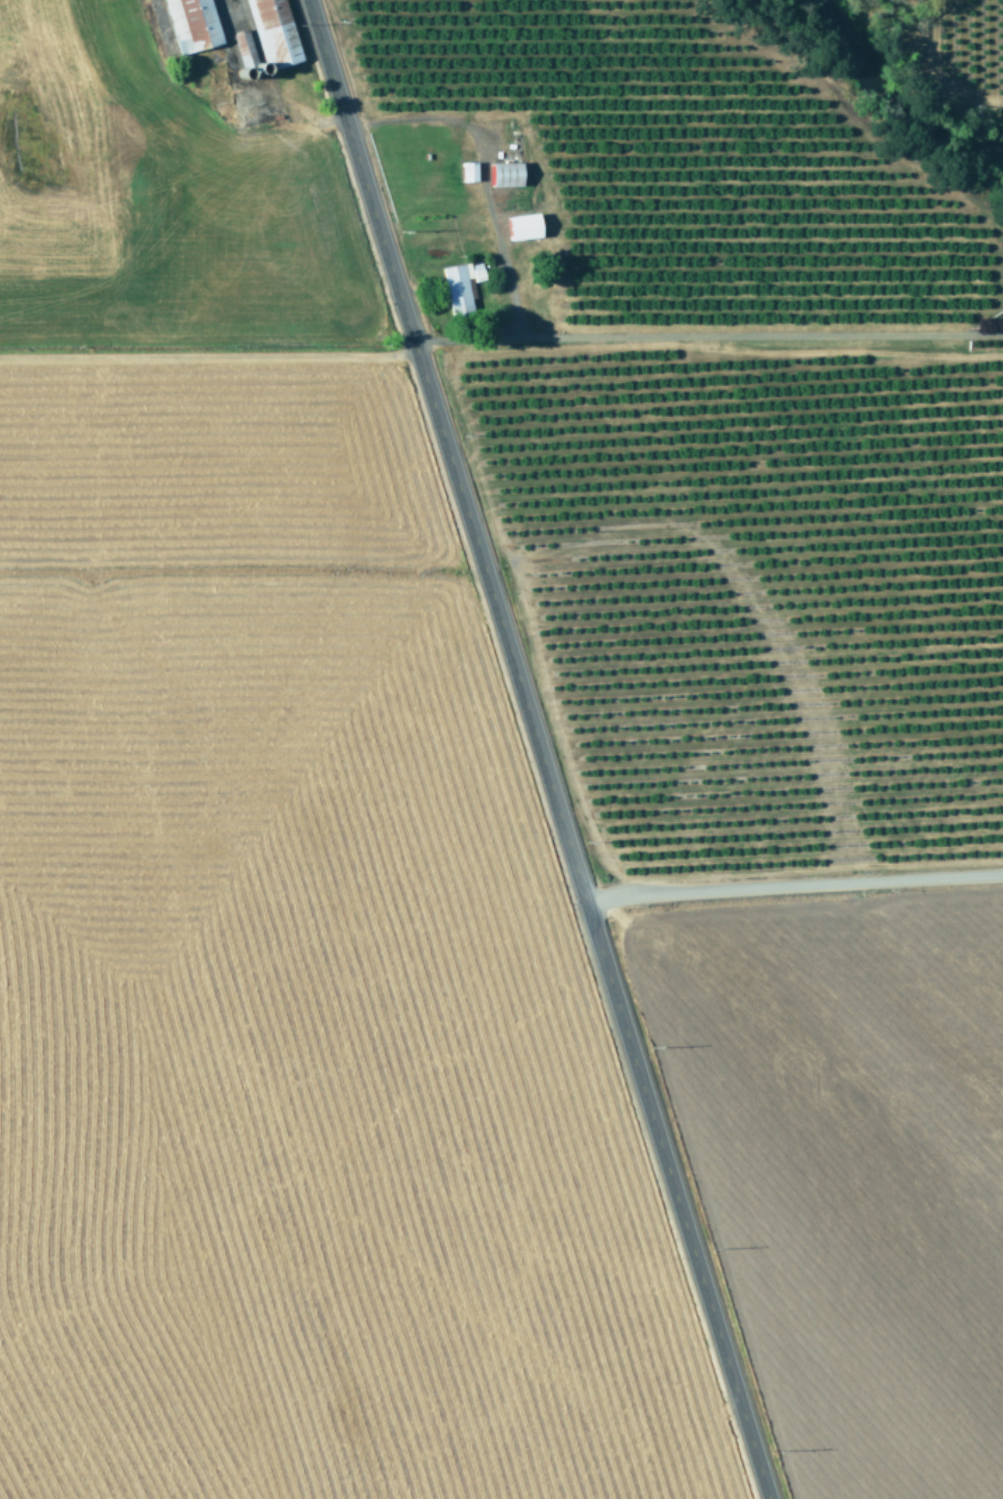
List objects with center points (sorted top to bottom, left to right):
crop: (982, 17)
building: (190, 24)
building: (271, 30)
building: (243, 47)
building: (466, 171)
building: (503, 174)
building: (521, 226)
road: (445, 448)
crop: (761, 651)
crop: (262, 863)
road: (792, 887)
road: (673, 1198)

